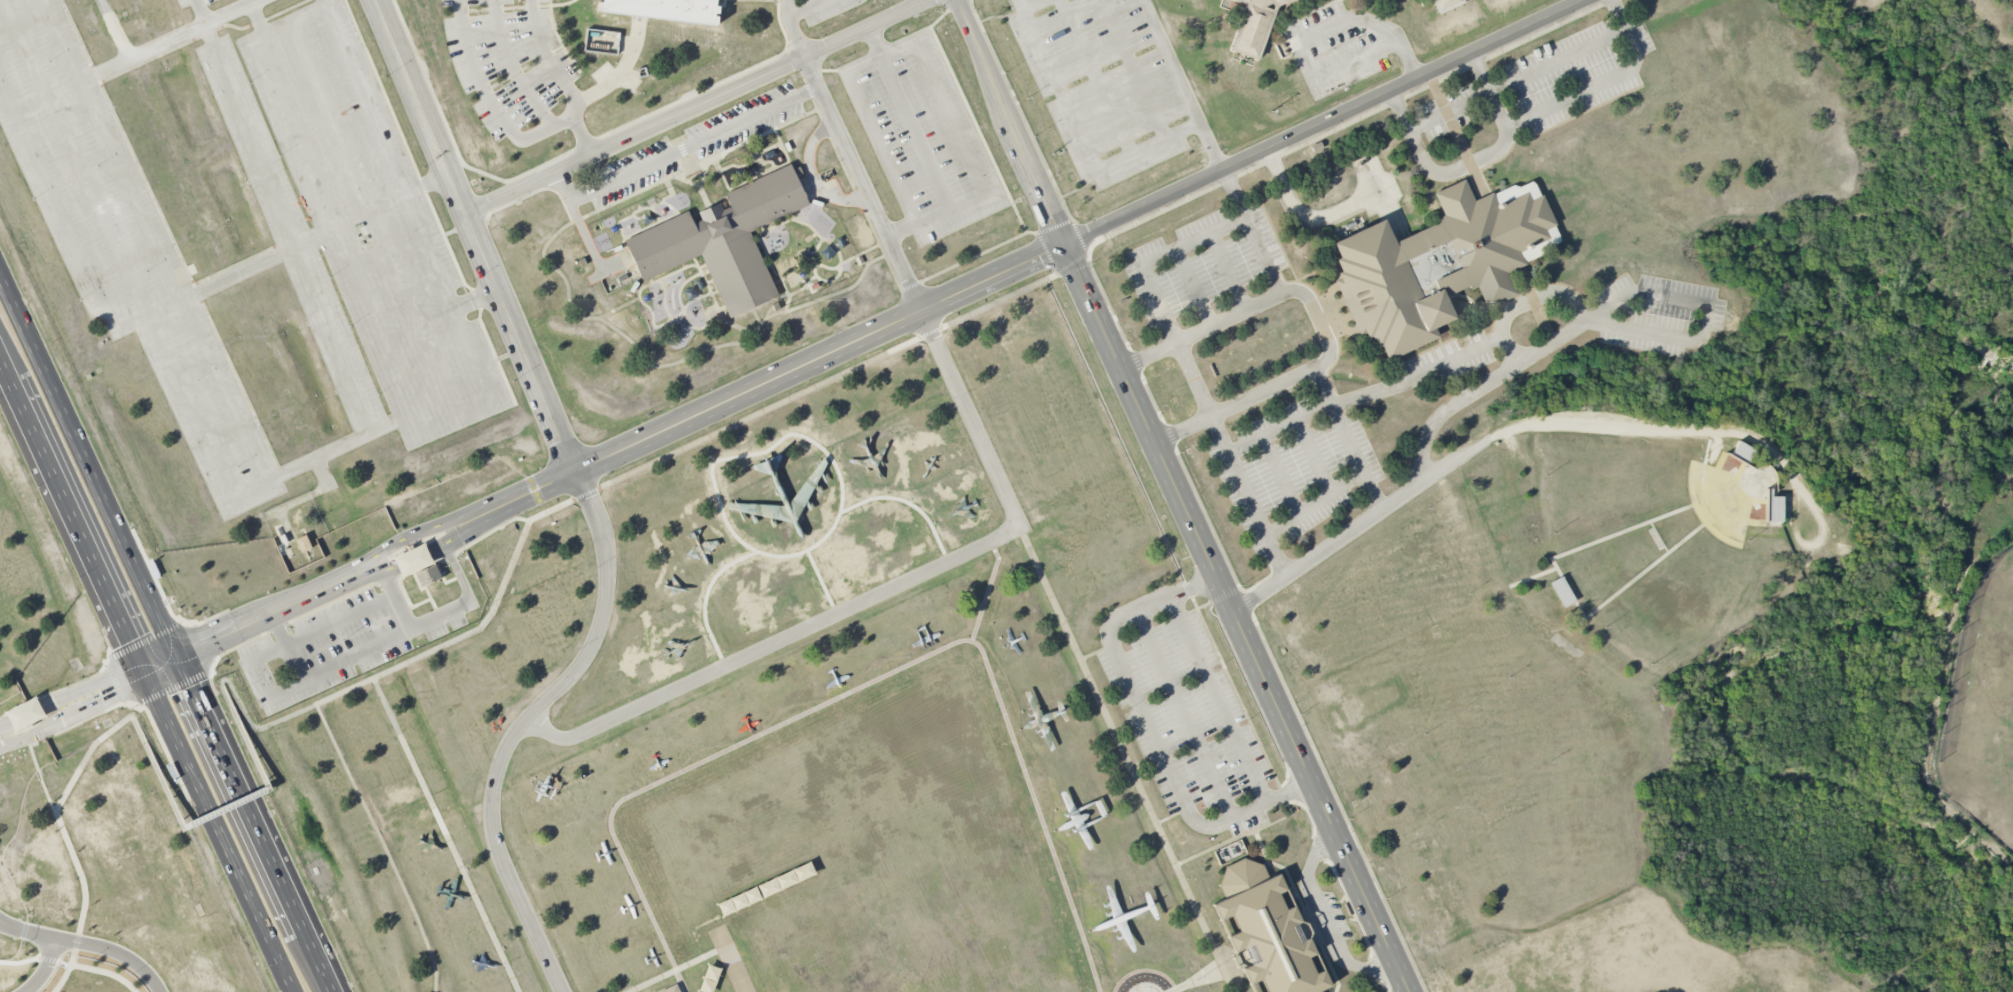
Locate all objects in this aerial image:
road: (820, 0)
parking lot: (193, 3)
road: (325, 4)
building: (1446, 4)
road: (806, 7)
building: (664, 9)
parking lot: (812, 10)
road: (201, 12)
road: (1002, 16)
road: (255, 19)
building: (1253, 26)
road: (790, 28)
road: (1305, 36)
road: (175, 38)
parking lot: (1340, 47)
road: (1574, 53)
road: (881, 55)
parking lot: (507, 60)
road: (512, 67)
road: (1132, 69)
parking lot: (602, 71)
road: (621, 71)
parking lot: (1573, 74)
road: (1094, 77)
parking lot: (1107, 83)
road: (1181, 87)
road: (1588, 89)
road: (54, 93)
road: (695, 105)
parking lot: (1449, 111)
road: (1449, 111)
road: (910, 117)
road: (1011, 122)
road: (1330, 124)
road: (1027, 127)
road: (1079, 130)
road: (535, 133)
road: (1323, 133)
road: (582, 136)
parking lot: (923, 137)
parking lot: (695, 144)
road: (679, 149)
road: (1473, 160)
road: (812, 177)
road: (1080, 187)
road: (374, 221)
parking lot: (373, 222)
road: (901, 228)
parking lot: (289, 232)
road: (1255, 234)
road: (586, 236)
building: (723, 240)
parking lot: (122, 246)
road: (1152, 258)
parking lot: (1202, 262)
building: (1439, 263)
road: (1229, 273)
road: (312, 283)
road: (1193, 288)
road: (913, 292)
road: (477, 298)
road: (1528, 306)
road: (980, 309)
road: (157, 311)
road: (1206, 330)
road: (1696, 340)
road: (834, 350)
road: (4, 373)
road: (1505, 374)
road: (1197, 381)
road: (1284, 386)
road: (1402, 386)
road: (1168, 432)
road: (422, 434)
road: (1348, 440)
building: (1742, 453)
road: (1315, 457)
road: (1460, 459)
road: (586, 465)
parking lot: (1291, 472)
road: (1280, 476)
road: (1373, 490)
road: (240, 493)
road: (1249, 498)
road: (589, 501)
road: (483, 505)
building: (1773, 507)
road: (498, 514)
road: (75, 526)
road: (118, 528)
building: (303, 543)
road: (377, 554)
road: (417, 555)
road: (402, 562)
road: (377, 571)
road: (159, 574)
building: (428, 575)
building: (1562, 592)
road: (467, 599)
road: (334, 600)
road: (268, 614)
road: (1237, 618)
road: (206, 619)
road: (277, 627)
road: (320, 629)
road: (146, 640)
traffic signals: (129, 641)
traffic signals: (210, 642)
road: (204, 643)
road: (773, 644)
parking lot: (330, 645)
road: (224, 652)
road: (417, 656)
road: (355, 657)
road: (161, 663)
road: (135, 675)
road: (91, 676)
traffic signals: (127, 679)
road: (175, 687)
traffic signals: (191, 687)
road: (79, 689)
road: (280, 691)
park: (1981, 694)
road: (1237, 695)
road: (1222, 699)
road: (145, 708)
building: (25, 714)
parking lot: (1183, 714)
road: (1186, 714)
road: (67, 717)
road: (16, 719)
road: (1150, 729)
road: (173, 734)
road: (758, 736)
road: (1128, 761)
road: (1290, 782)
road: (241, 796)
road: (1339, 804)
road: (1051, 807)
road: (222, 809)
road: (212, 814)
road: (446, 834)
road: (1241, 834)
road: (66, 843)
road: (382, 846)
road: (289, 902)
road: (1301, 905)
road: (256, 911)
road: (1324, 920)
road: (26, 929)
building: (1265, 932)
road: (112, 950)
road: (733, 960)
road: (45, 968)
road: (678, 969)
road: (105, 972)
flagpole: (1198, 977)
road: (1201, 982)
building: (671, 989)

